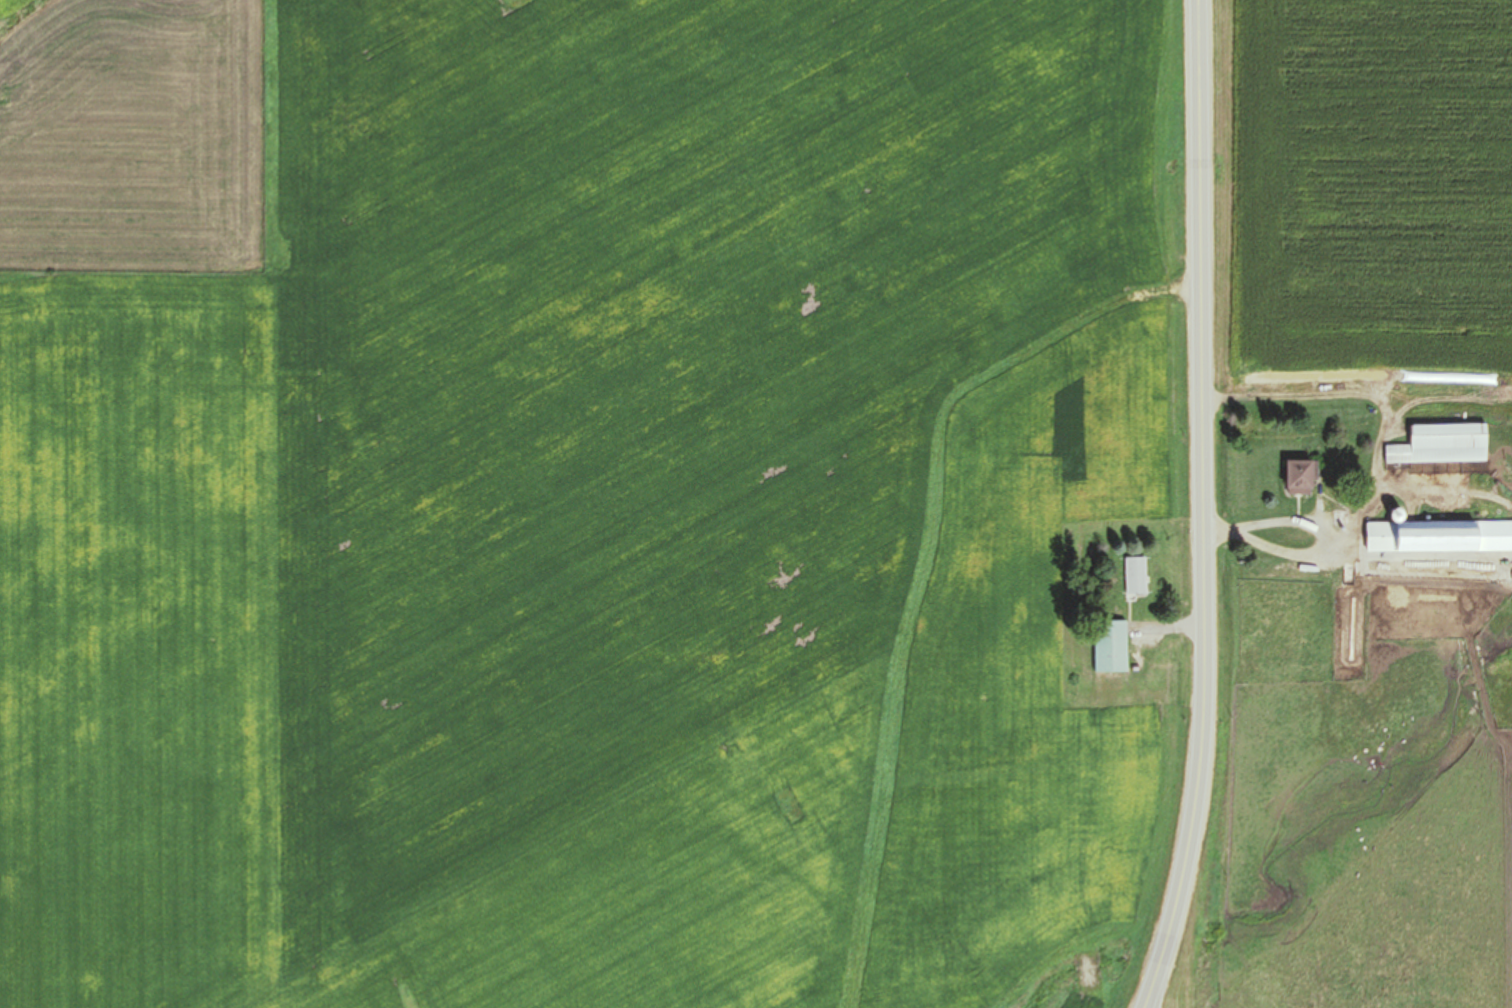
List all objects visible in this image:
building: (1441, 445)
building: (1300, 477)
road: (1206, 481)
building: (1439, 537)
building: (1135, 576)
building: (1110, 646)
road: (1156, 983)
road: (1175, 983)

